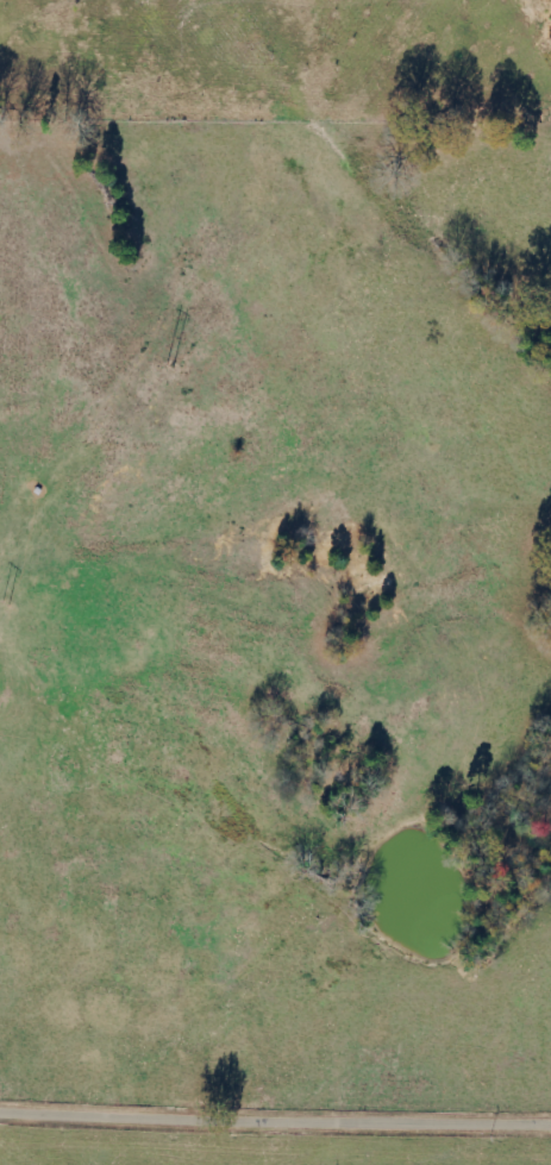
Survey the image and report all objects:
power tower: (170, 370)
power tower: (6, 607)
road: (275, 1126)

